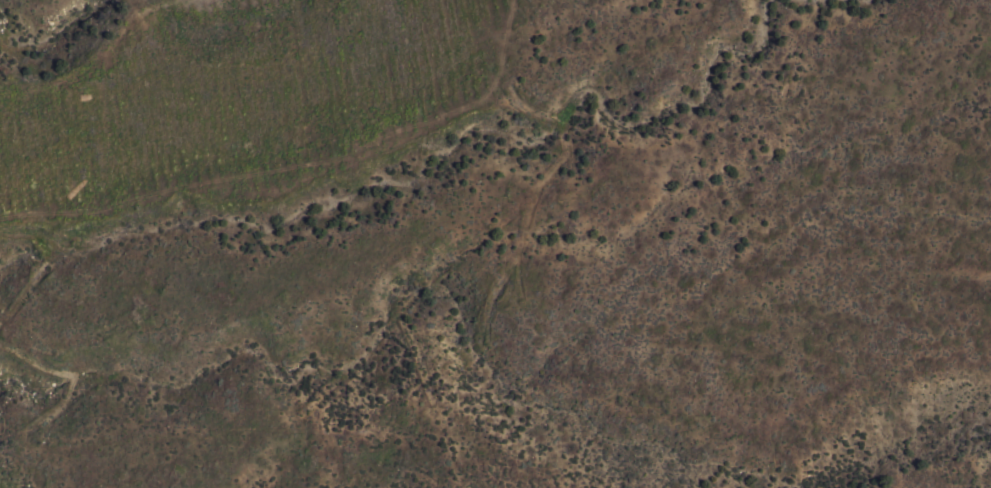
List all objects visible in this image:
crop: (229, 115)

